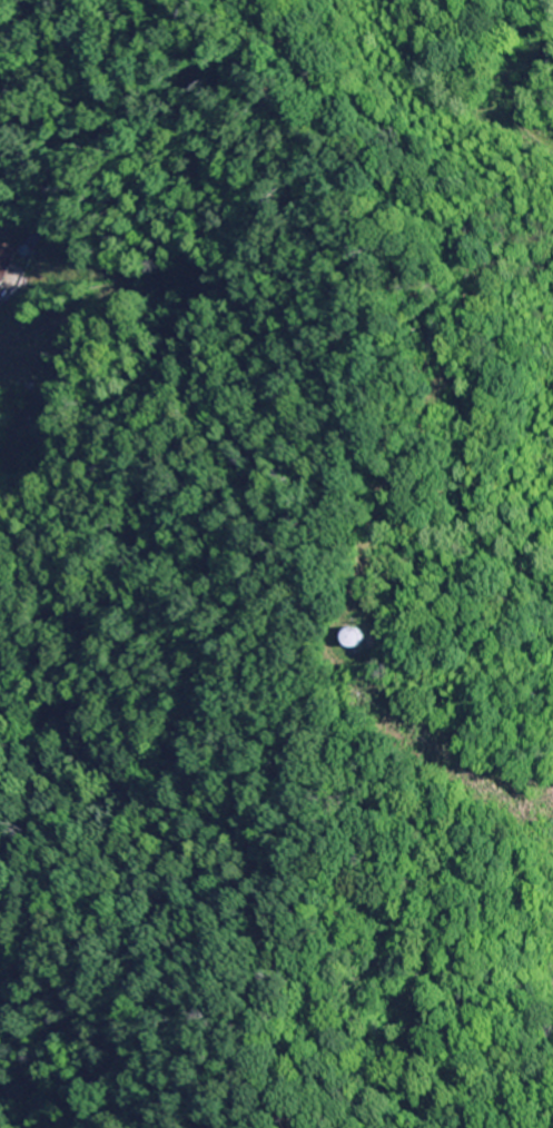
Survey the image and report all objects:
building: (4, 260)
building: (355, 636)

